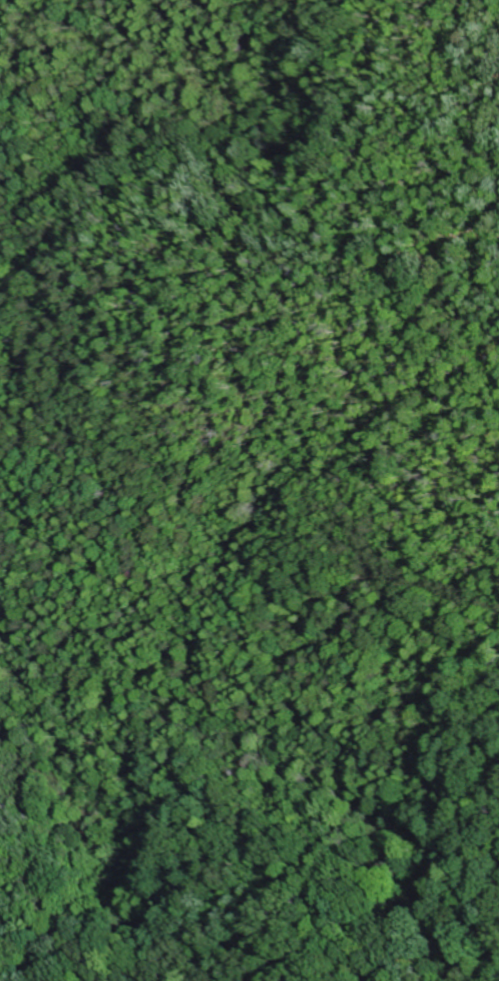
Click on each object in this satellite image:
road: (452, 167)

